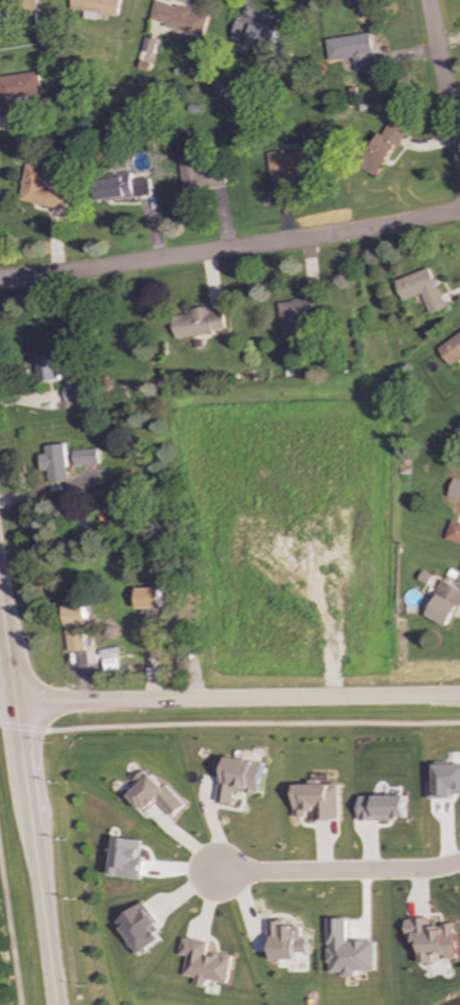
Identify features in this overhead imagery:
building: (5, 0)
building: (94, 6)
building: (178, 18)
building: (254, 35)
building: (147, 45)
building: (351, 50)
road: (440, 78)
building: (17, 91)
building: (379, 148)
building: (291, 162)
building: (198, 173)
building: (38, 188)
building: (120, 188)
road: (230, 250)
building: (419, 289)
building: (296, 315)
building: (198, 322)
building: (451, 349)
building: (47, 368)
building: (72, 393)
building: (85, 457)
building: (54, 463)
road: (48, 489)
building: (457, 493)
building: (452, 532)
building: (148, 598)
building: (443, 604)
building: (75, 627)
road: (237, 699)
road: (252, 724)
road: (22, 728)
building: (240, 778)
building: (444, 781)
building: (155, 794)
road: (28, 799)
building: (318, 801)
building: (382, 808)
building: (126, 858)
road: (339, 869)
building: (139, 927)
road: (9, 938)
building: (431, 939)
building: (284, 941)
building: (347, 951)
building: (204, 962)

